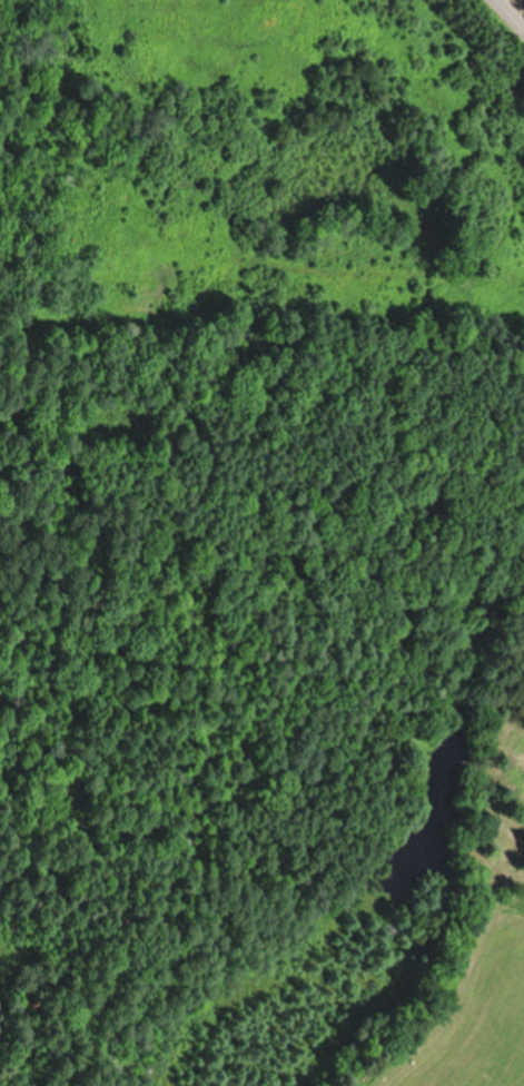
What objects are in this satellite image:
road: (512, 12)

